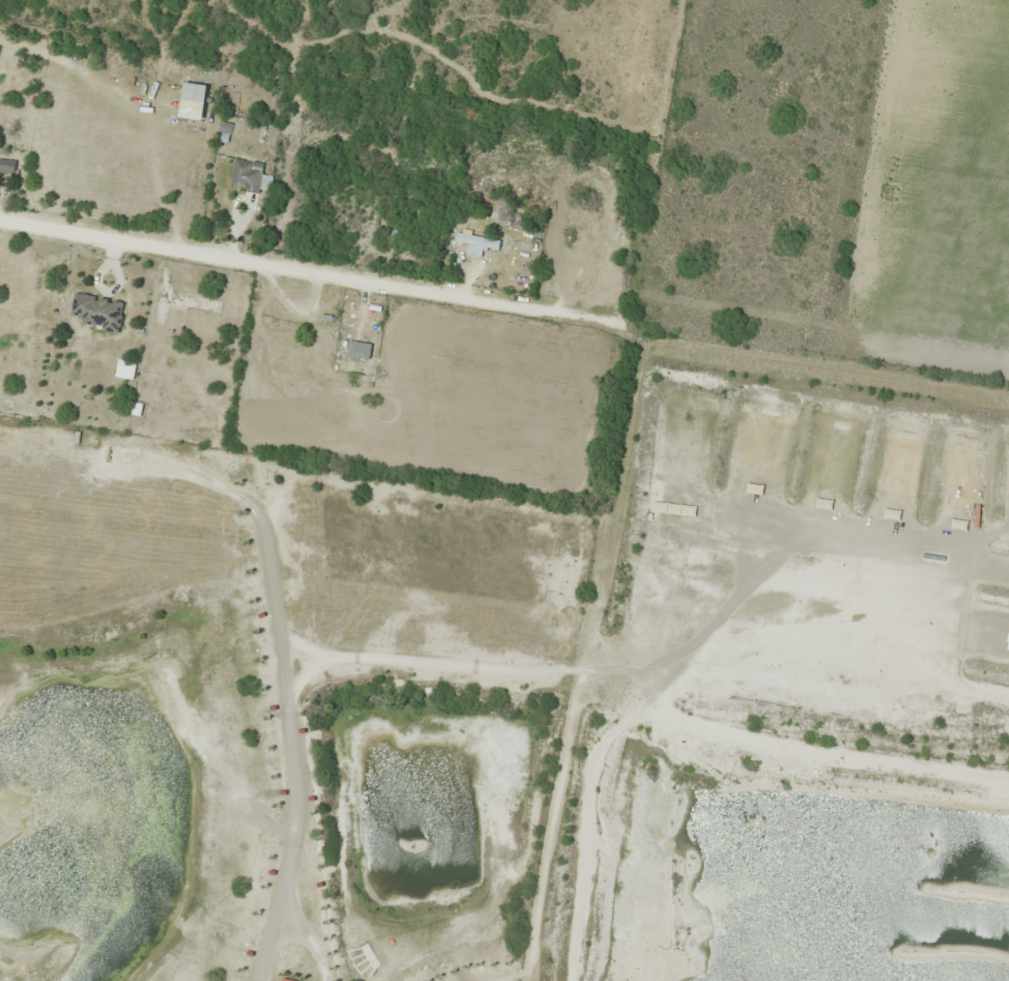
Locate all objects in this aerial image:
building: (194, 92)
building: (7, 167)
building: (246, 176)
building: (477, 241)
building: (575, 260)
road: (229, 261)
building: (99, 312)
building: (125, 369)

